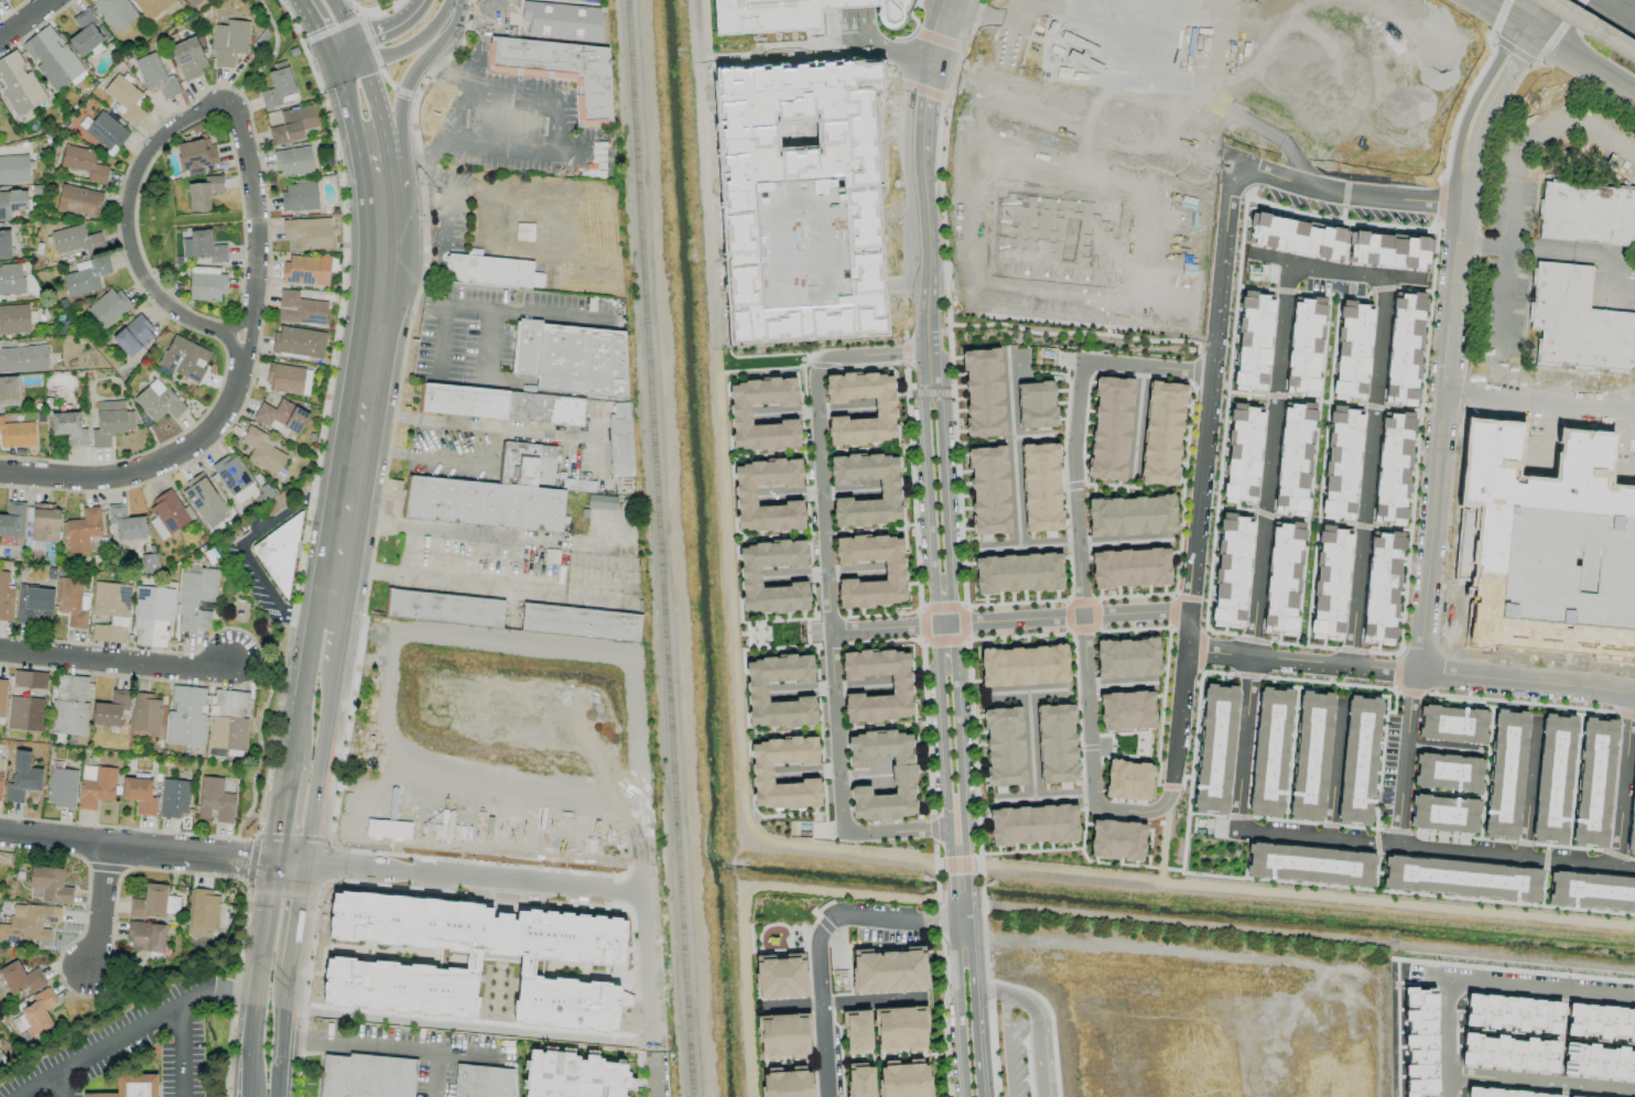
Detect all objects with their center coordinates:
building: (0, 0)
building: (355, 0)
building: (748, 0)
building: (773, 1)
building: (196, 3)
road: (1625, 6)
building: (155, 7)
road: (1495, 11)
building: (116, 12)
road: (480, 13)
building: (560, 15)
road: (1546, 17)
road: (26, 20)
road: (343, 22)
building: (790, 23)
railway: (1595, 23)
traffic signals: (1516, 24)
road: (397, 29)
road: (1524, 29)
road: (320, 30)
road: (929, 30)
railway: (1584, 30)
road: (1558, 31)
road: (957, 32)
building: (87, 33)
traffic signals: (1533, 34)
road: (1493, 36)
road: (1498, 40)
road: (413, 41)
building: (229, 42)
road: (999, 42)
traffic signals: (355, 45)
road: (885, 51)
road: (344, 54)
road: (358, 54)
building: (52, 57)
building: (188, 57)
road: (270, 58)
traffic signals: (334, 63)
road: (348, 63)
road: (933, 63)
traffic signals: (362, 64)
road: (1583, 65)
building: (559, 69)
road: (1507, 74)
building: (155, 75)
road: (965, 76)
road: (409, 77)
building: (19, 84)
building: (279, 86)
road: (511, 98)
building: (124, 99)
road: (461, 101)
road: (1470, 104)
road: (376, 105)
road: (214, 106)
road: (909, 106)
road: (346, 108)
road: (933, 109)
building: (292, 124)
road: (559, 127)
road: (1588, 130)
building: (106, 132)
road: (526, 150)
building: (195, 153)
road: (373, 156)
building: (293, 161)
building: (84, 163)
road: (413, 164)
road: (1472, 167)
building: (13, 169)
road: (1254, 171)
building: (204, 192)
building: (300, 196)
building: (78, 200)
building: (1095, 202)
building: (12, 203)
building: (1587, 214)
building: (308, 232)
building: (1297, 236)
road: (1480, 236)
road: (1505, 237)
building: (75, 240)
building: (800, 243)
building: (4, 245)
building: (203, 247)
building: (1389, 249)
building: (306, 270)
building: (491, 271)
road: (1335, 271)
building: (85, 275)
building: (11, 280)
building: (206, 284)
road: (1622, 291)
road: (411, 295)
building: (108, 307)
building: (300, 308)
road: (529, 312)
building: (14, 318)
road: (1141, 318)
building: (1577, 322)
building: (132, 336)
road: (249, 337)
building: (299, 341)
road: (441, 341)
road: (230, 343)
building: (1253, 343)
building: (1304, 345)
road: (487, 346)
building: (1404, 347)
building: (1352, 349)
building: (184, 358)
building: (571, 358)
building: (23, 359)
road: (367, 366)
road: (917, 366)
building: (289, 379)
road: (940, 389)
building: (9, 391)
building: (983, 392)
building: (158, 401)
road: (1539, 401)
building: (502, 404)
building: (1036, 404)
building: (884, 409)
building: (739, 412)
building: (281, 416)
road: (386, 416)
building: (110, 422)
building: (68, 427)
road: (505, 428)
building: (1109, 428)
building: (1161, 433)
building: (17, 434)
building: (620, 441)
road: (1439, 442)
road: (495, 446)
building: (261, 450)
building: (1242, 454)
road: (383, 455)
road: (598, 457)
building: (1293, 458)
road: (453, 461)
building: (1341, 463)
building: (1392, 466)
road: (149, 469)
building: (235, 478)
road: (1014, 486)
building: (1040, 487)
building: (888, 490)
building: (988, 490)
building: (745, 492)
building: (494, 493)
building: (204, 501)
building: (600, 501)
building: (169, 514)
building: (1130, 515)
road: (1075, 519)
building: (12, 520)
building: (124, 523)
building: (42, 525)
building: (83, 530)
road: (1120, 542)
road: (241, 545)
railway: (659, 547)
building: (1550, 548)
building: (279, 553)
building: (1129, 568)
building: (894, 571)
building: (1231, 571)
building: (1018, 573)
building: (749, 574)
road: (452, 576)
building: (1282, 578)
building: (1330, 580)
building: (1380, 586)
road: (598, 587)
road: (332, 594)
building: (6, 598)
building: (195, 598)
road: (827, 598)
building: (72, 601)
road: (932, 601)
building: (34, 604)
building: (445, 608)
park: (239, 609)
building: (110, 611)
road: (1134, 611)
building: (151, 616)
road: (1018, 619)
building: (580, 622)
road: (1184, 622)
road: (944, 624)
road: (881, 627)
road: (333, 628)
road: (306, 654)
road: (1301, 654)
road: (337, 656)
building: (1127, 658)
road: (115, 663)
building: (1024, 665)
building: (30, 680)
road: (1526, 680)
building: (900, 687)
building: (756, 688)
building: (2, 696)
building: (69, 705)
building: (110, 709)
building: (1126, 710)
building: (145, 713)
building: (25, 714)
building: (185, 716)
building: (227, 720)
building: (1452, 724)
road: (297, 725)
road: (1243, 736)
road: (961, 738)
building: (1055, 743)
building: (1004, 747)
building: (1214, 749)
road: (260, 750)
road: (1408, 751)
building: (1269, 752)
building: (1310, 756)
building: (1358, 760)
road: (1333, 763)
building: (761, 771)
road: (942, 772)
building: (1447, 772)
building: (0, 774)
building: (1505, 774)
road: (321, 775)
road: (1622, 775)
building: (22, 776)
building: (902, 776)
building: (1552, 779)
building: (1128, 780)
building: (1593, 782)
road: (1528, 784)
building: (96, 785)
building: (62, 786)
building: (139, 794)
road: (1043, 796)
building: (174, 797)
building: (215, 800)
road: (284, 811)
building: (1443, 814)
building: (1632, 815)
building: (1032, 825)
building: (388, 829)
building: (1116, 839)
road: (1423, 840)
road: (138, 848)
road: (1624, 860)
building: (1310, 865)
traffic signals: (275, 869)
road: (291, 871)
traffic signals: (306, 873)
building: (1461, 879)
road: (476, 880)
building: (50, 884)
road: (970, 884)
building: (1591, 891)
building: (149, 903)
road: (102, 904)
building: (204, 914)
road: (961, 917)
building: (28, 923)
road: (296, 926)
road: (972, 926)
building: (145, 936)
road: (821, 944)
road: (1230, 957)
building: (475, 959)
building: (889, 970)
building: (780, 976)
building: (20, 978)
road: (258, 982)
road: (1552, 987)
road: (1634, 995)
road: (956, 1008)
building: (37, 1011)
building: (1511, 1012)
road: (977, 1015)
building: (1600, 1021)
road: (1035, 1022)
road: (1447, 1028)
building: (900, 1029)
road: (132, 1030)
building: (856, 1032)
building: (783, 1035)
road: (281, 1038)
building: (1420, 1041)
road: (385, 1043)
road: (1006, 1046)
road: (187, 1049)
building: (1507, 1053)
building: (1598, 1062)
building: (366, 1076)
building: (574, 1076)
building: (903, 1078)
road: (656, 1079)
road: (1541, 1079)
building: (859, 1080)
road: (65, 1082)
building: (485, 1082)
building: (787, 1082)
building: (130, 1086)
building: (1503, 1093)
building: (1568, 1096)

